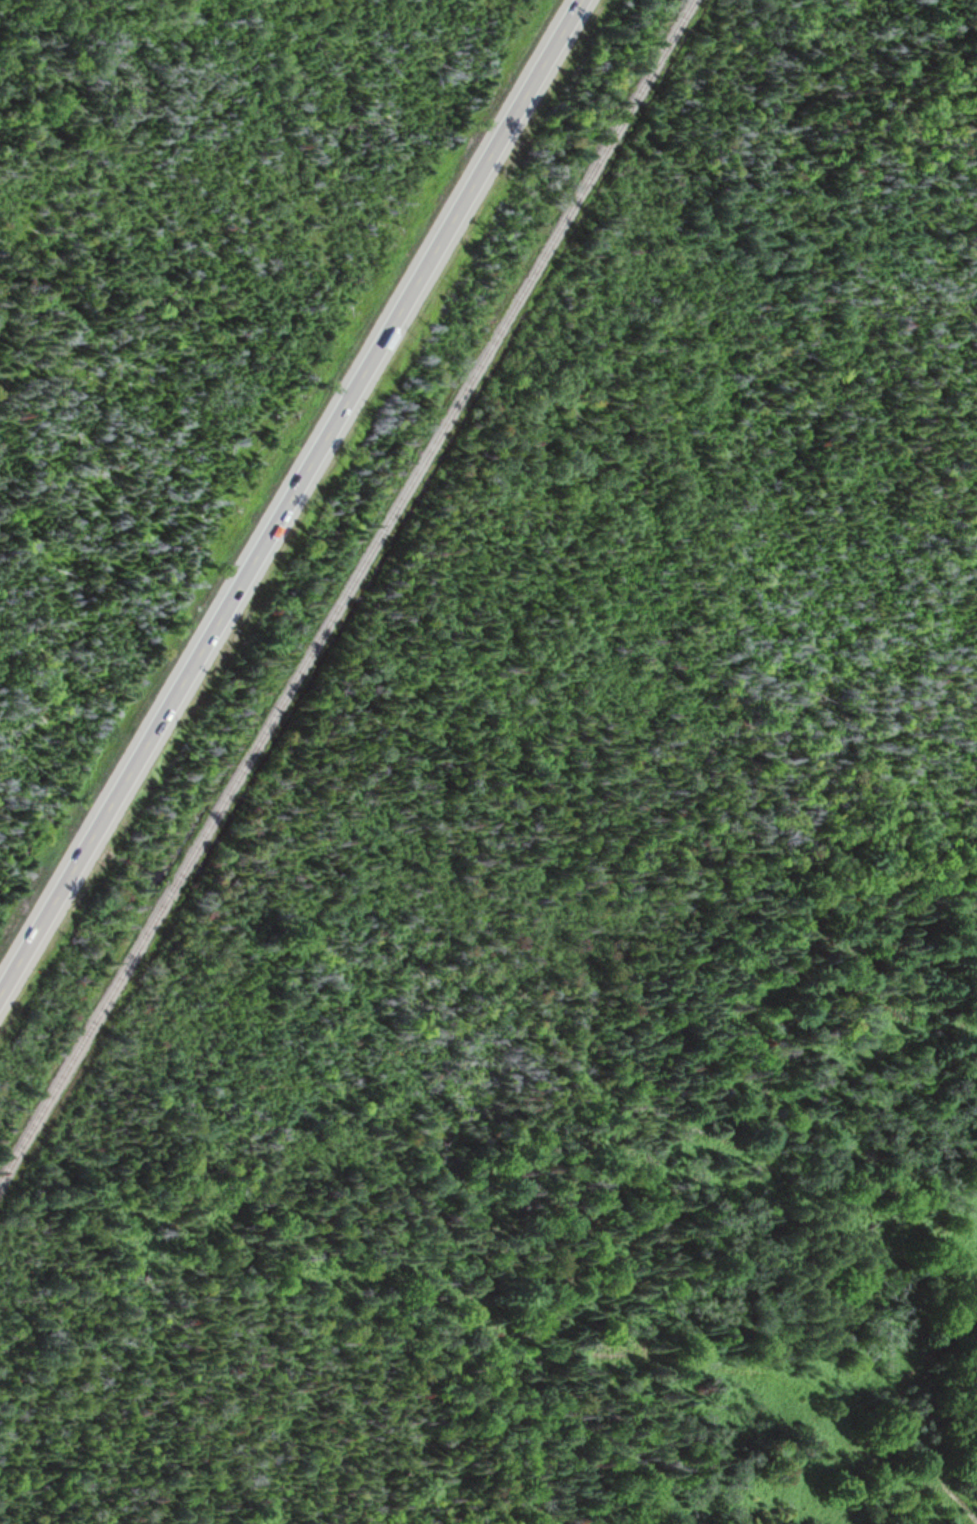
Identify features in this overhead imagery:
road: (290, 496)
railway: (348, 592)

